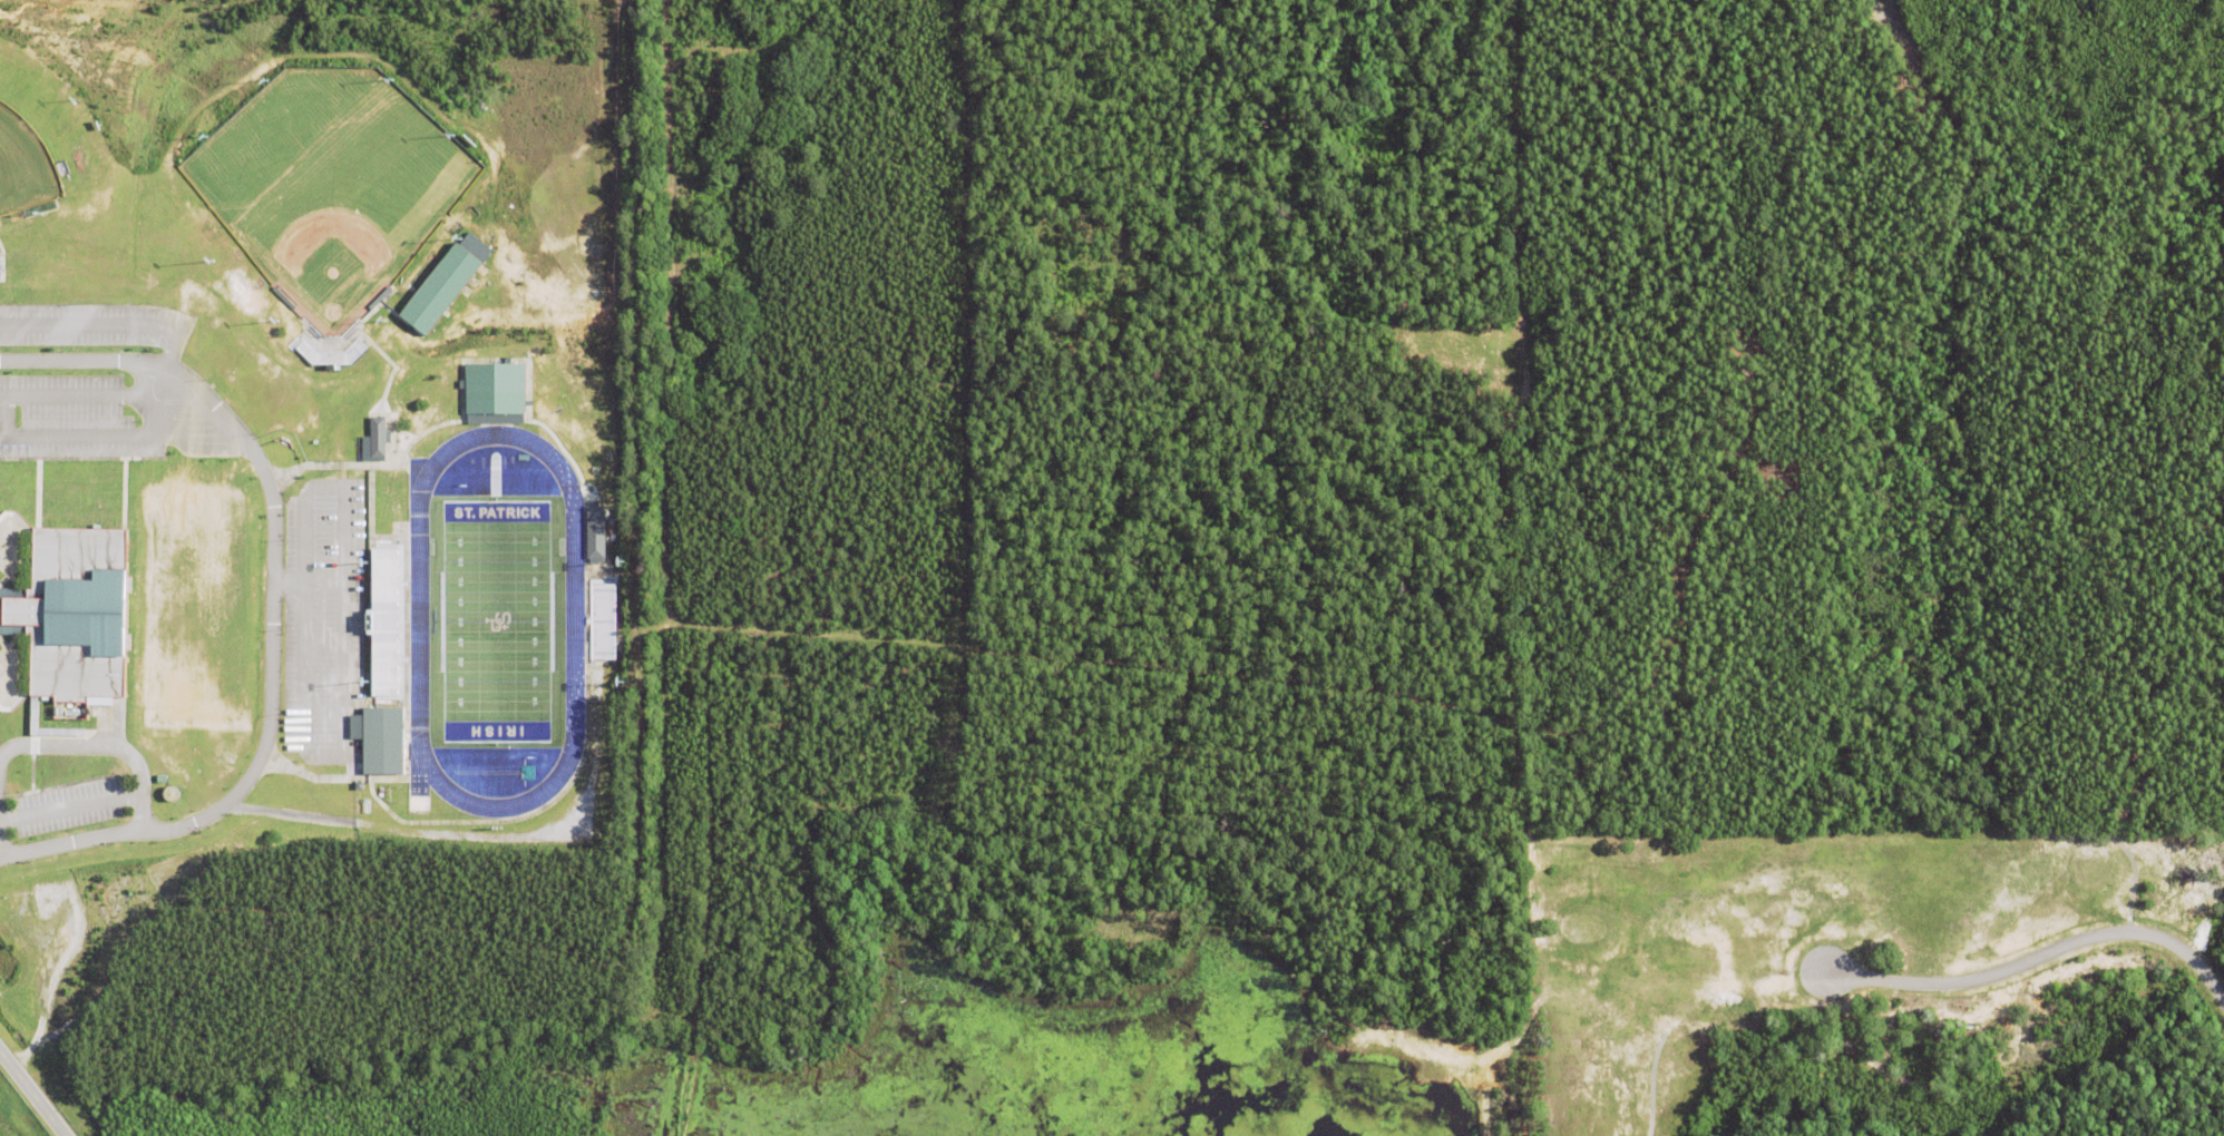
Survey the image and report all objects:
park: (36, 147)
park: (329, 187)
building: (437, 291)
parking lot: (84, 380)
building: (491, 390)
building: (592, 532)
road: (28, 545)
road: (273, 606)
building: (74, 615)
building: (383, 619)
track: (418, 620)
building: (599, 620)
park: (496, 624)
parking lot: (325, 625)
road: (26, 678)
building: (375, 740)
road: (103, 747)
road: (2040, 960)
road: (31, 1095)

